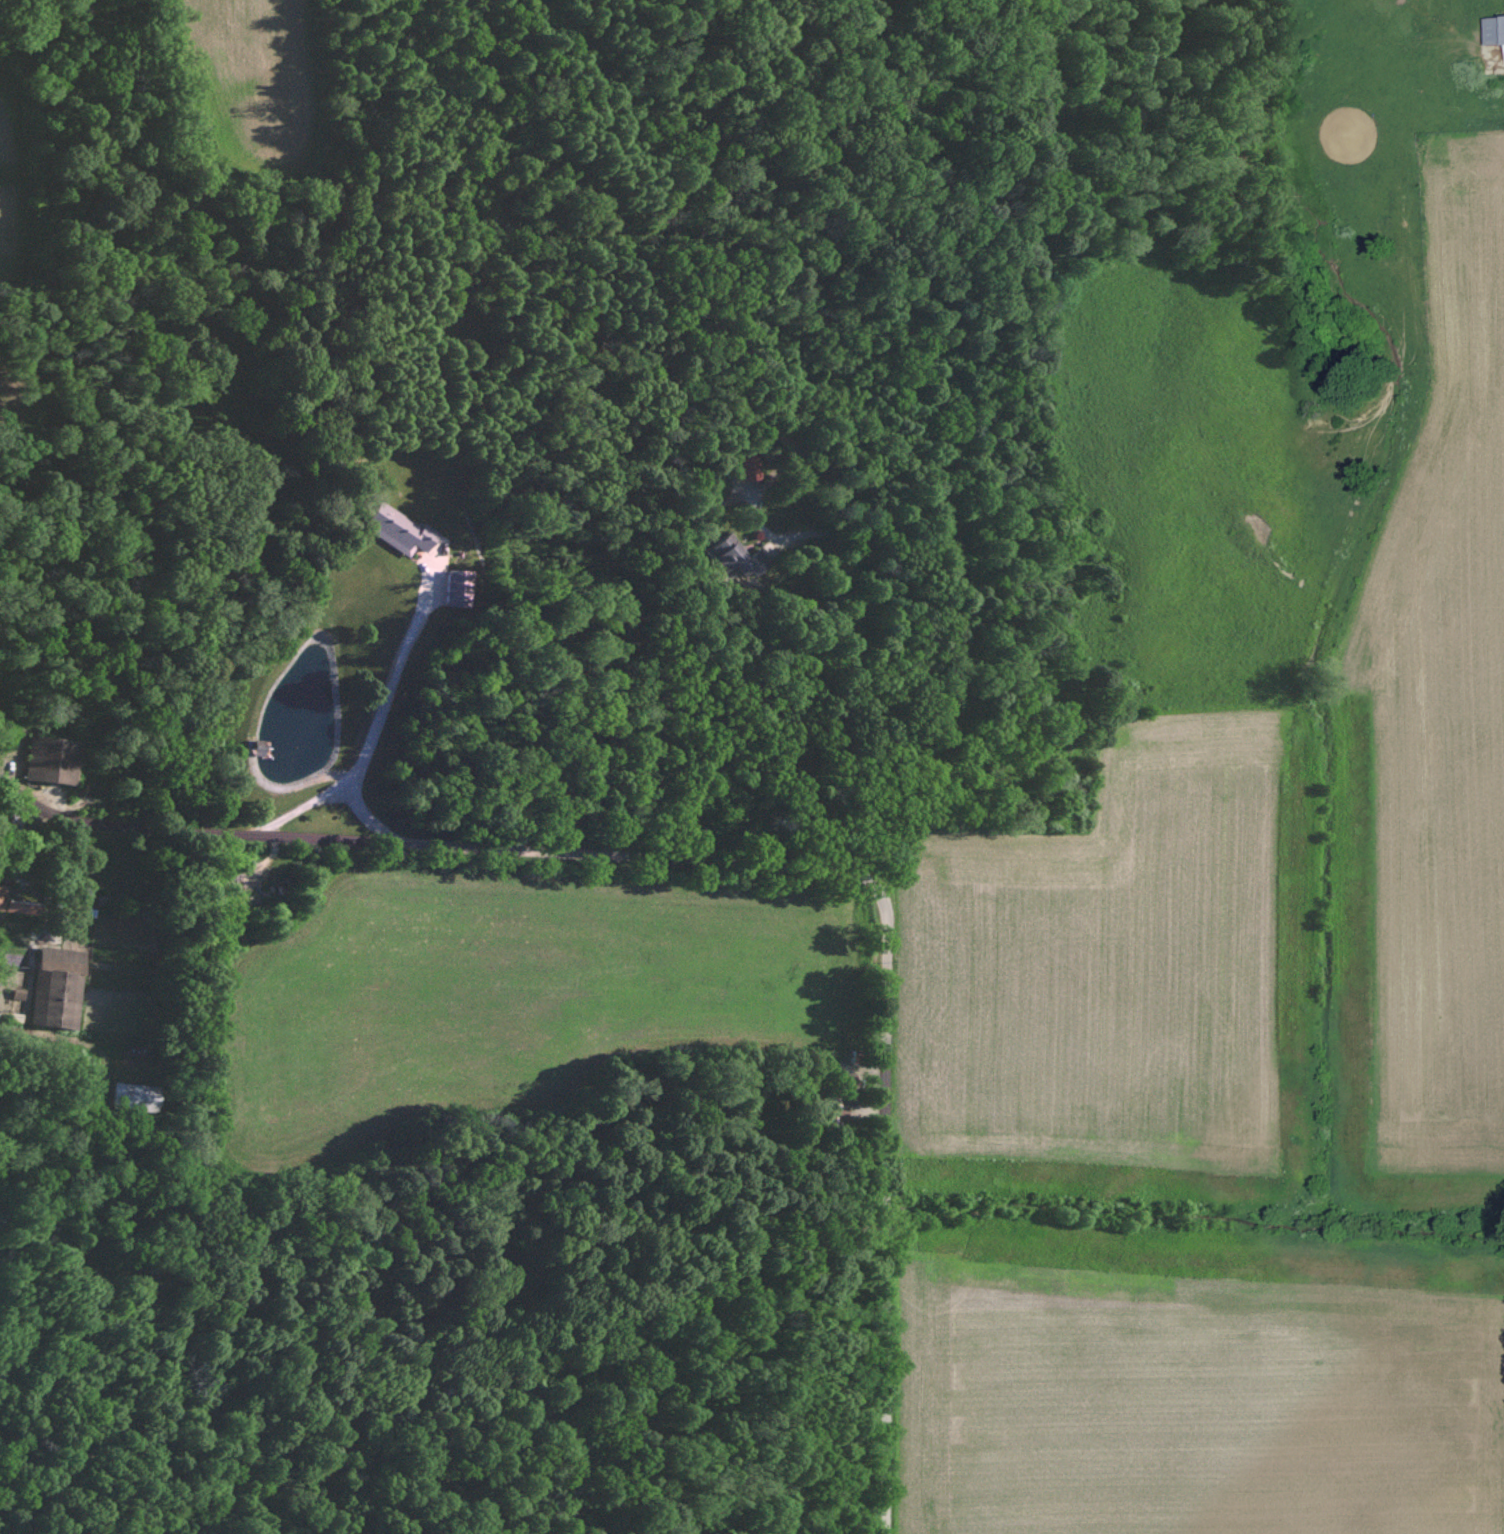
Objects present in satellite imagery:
building: (1495, 28)
building: (401, 528)
building: (732, 557)
building: (459, 587)
road: (392, 678)
building: (52, 759)
road: (335, 792)
road: (760, 864)
building: (2, 894)
building: (26, 897)
building: (59, 987)
building: (19, 993)
building: (131, 1096)

